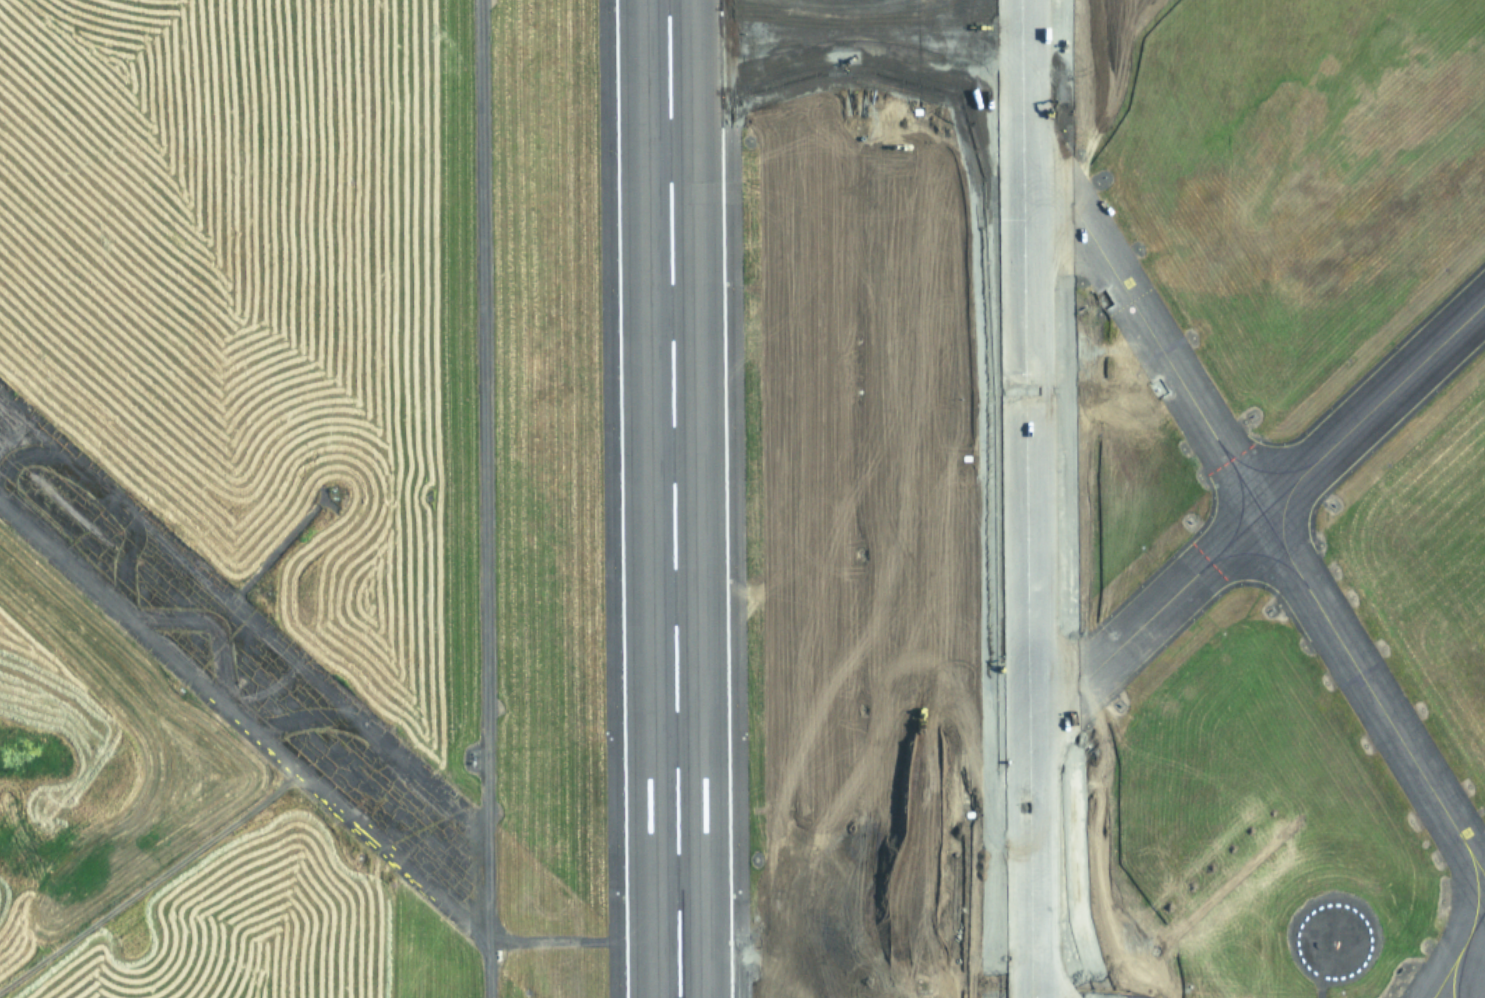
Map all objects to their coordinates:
crop: (218, 290)
crop: (426, 396)
airport taxiway: (1216, 443)
airport runway: (601, 498)
airport taxiway: (1001, 498)
airport taxiway: (1057, 498)
airport runway: (672, 499)
airport runway: (739, 499)
airport: (742, 499)
airport taxiway: (1025, 499)
crop: (868, 508)
crop: (528, 515)
road: (486, 525)
airport taxiway: (1236, 536)
road: (246, 676)
crop: (157, 831)
road: (164, 868)
airport taxiway: (1464, 942)
road: (492, 967)
airport taxiway: (1461, 967)
airport taxiway: (677, 997)
airport taxiway: (677, 997)

